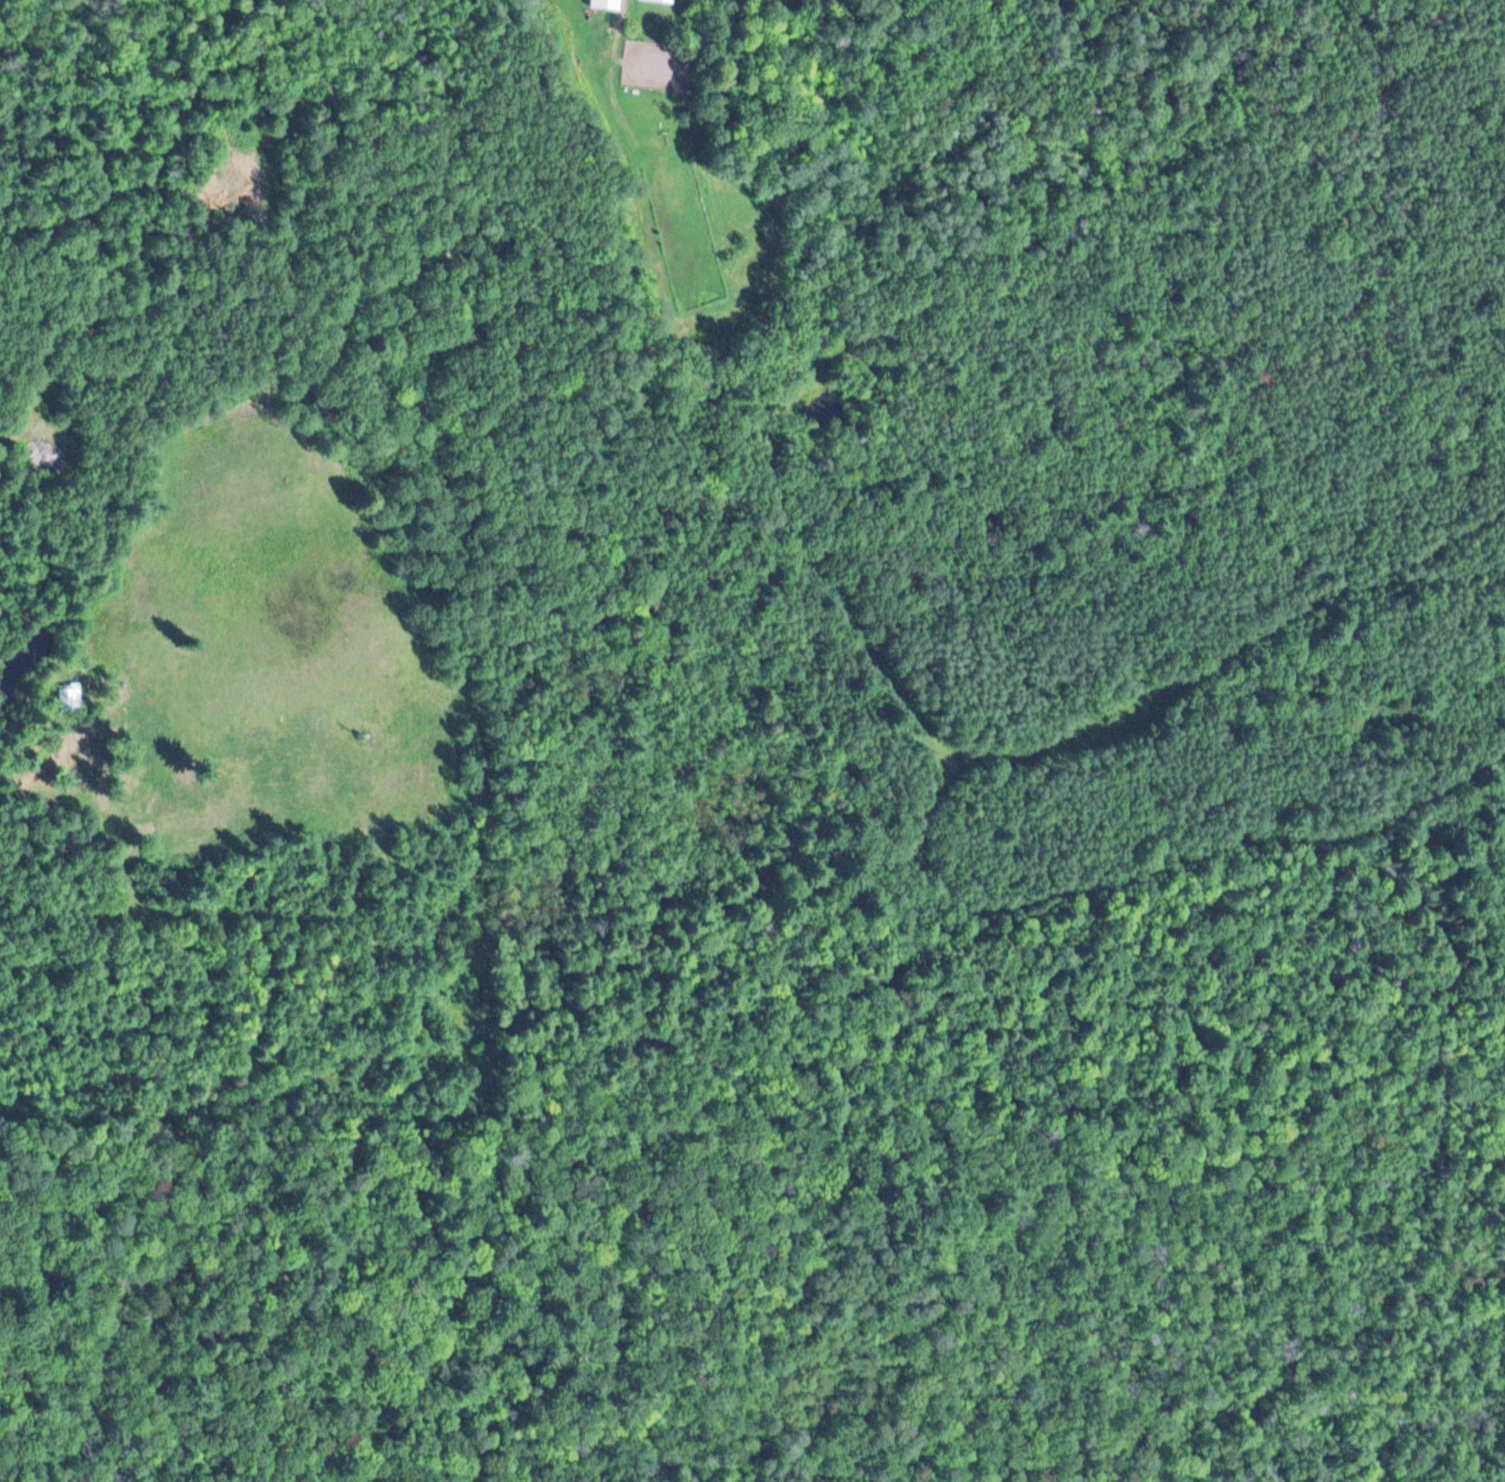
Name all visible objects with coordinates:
building: (661, 1)
building: (603, 4)
building: (64, 697)

